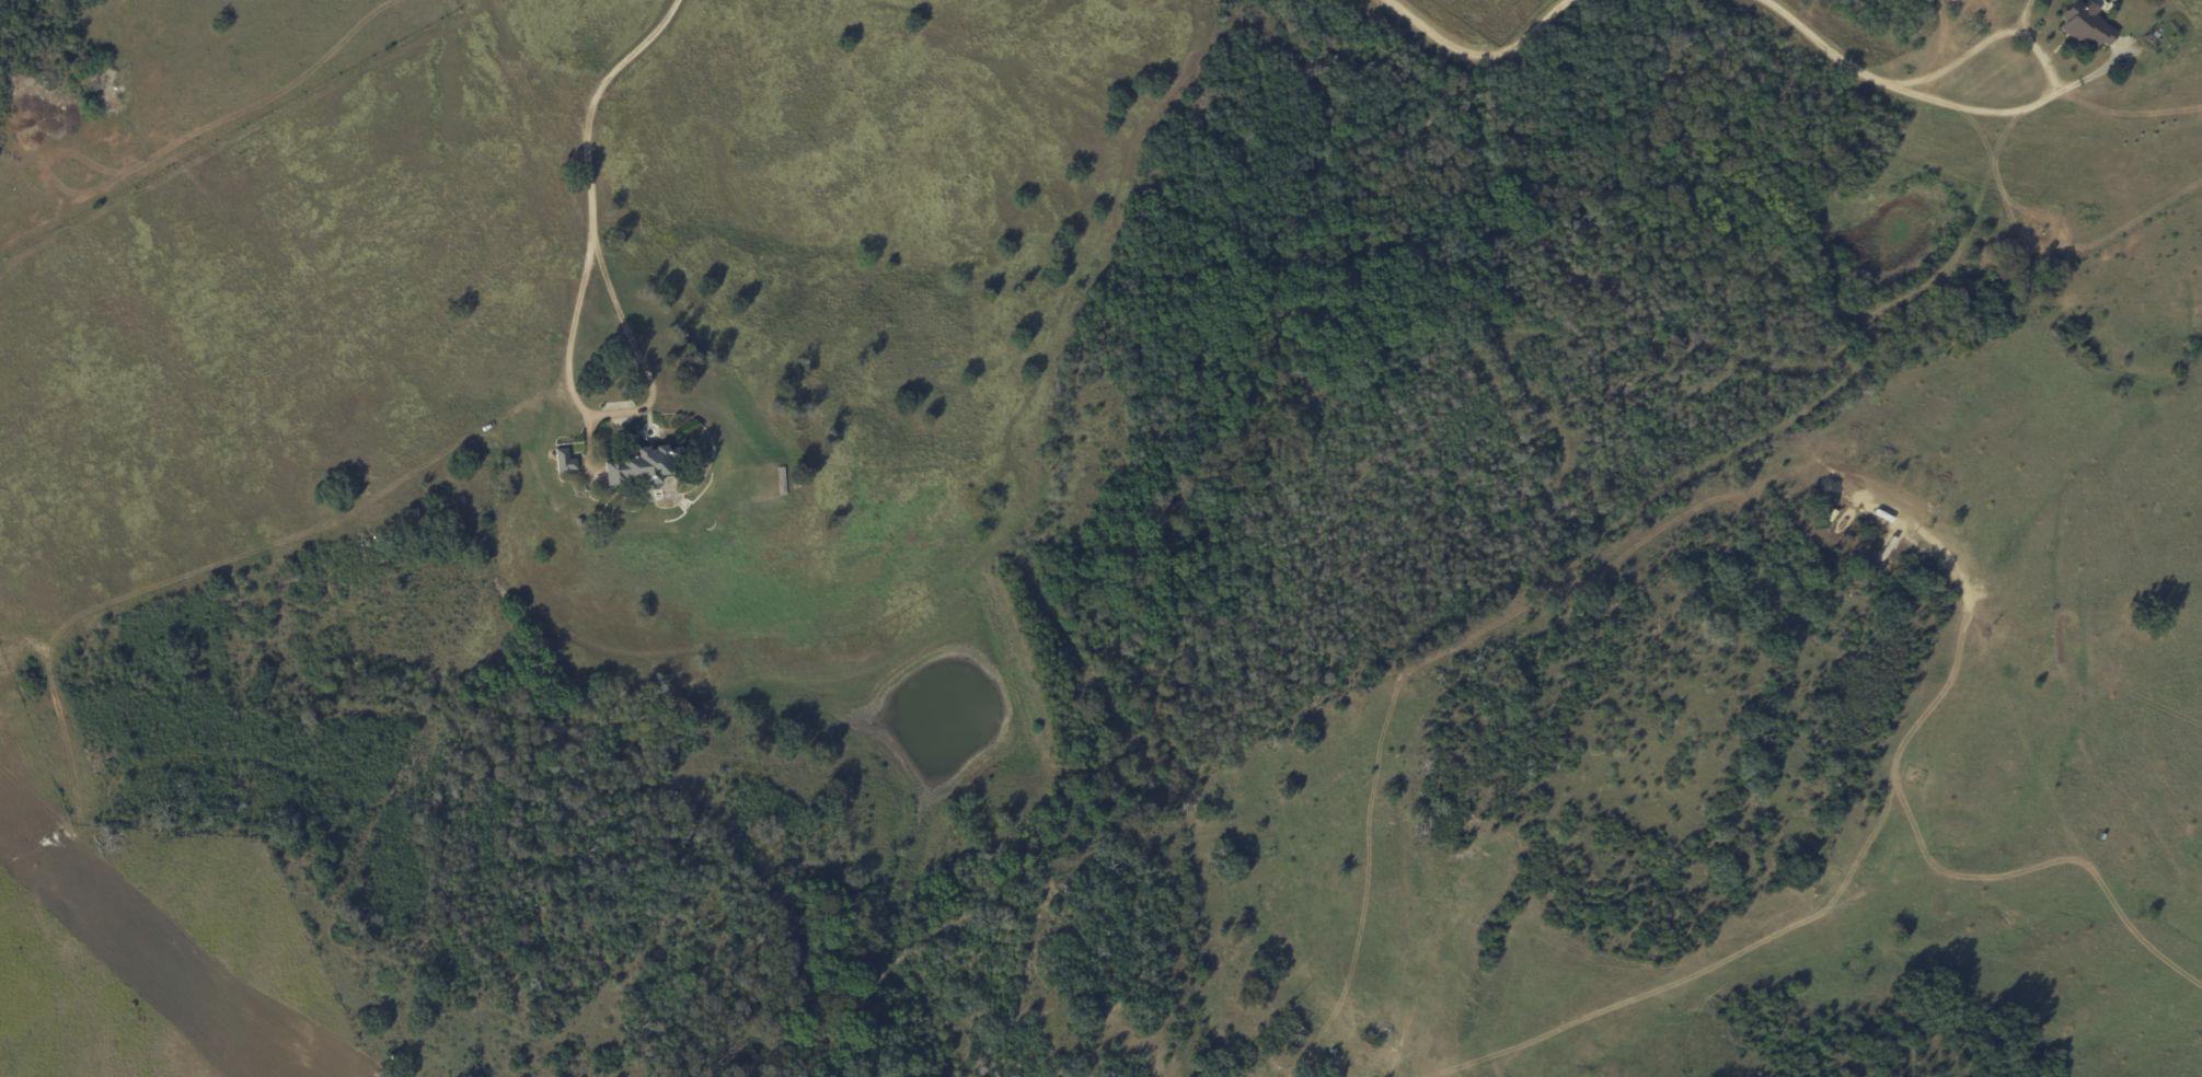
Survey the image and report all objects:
building: (2085, 24)
road: (1483, 58)
road: (1956, 62)
road: (590, 96)
road: (1945, 104)
road: (614, 412)
building: (563, 460)
building: (641, 465)

